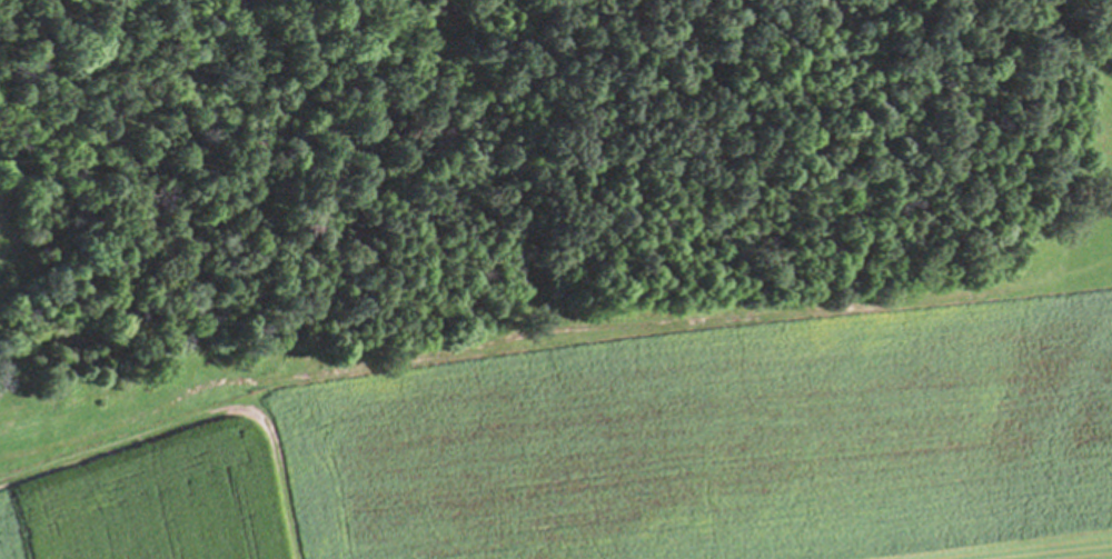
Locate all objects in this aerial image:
crop: (606, 441)

